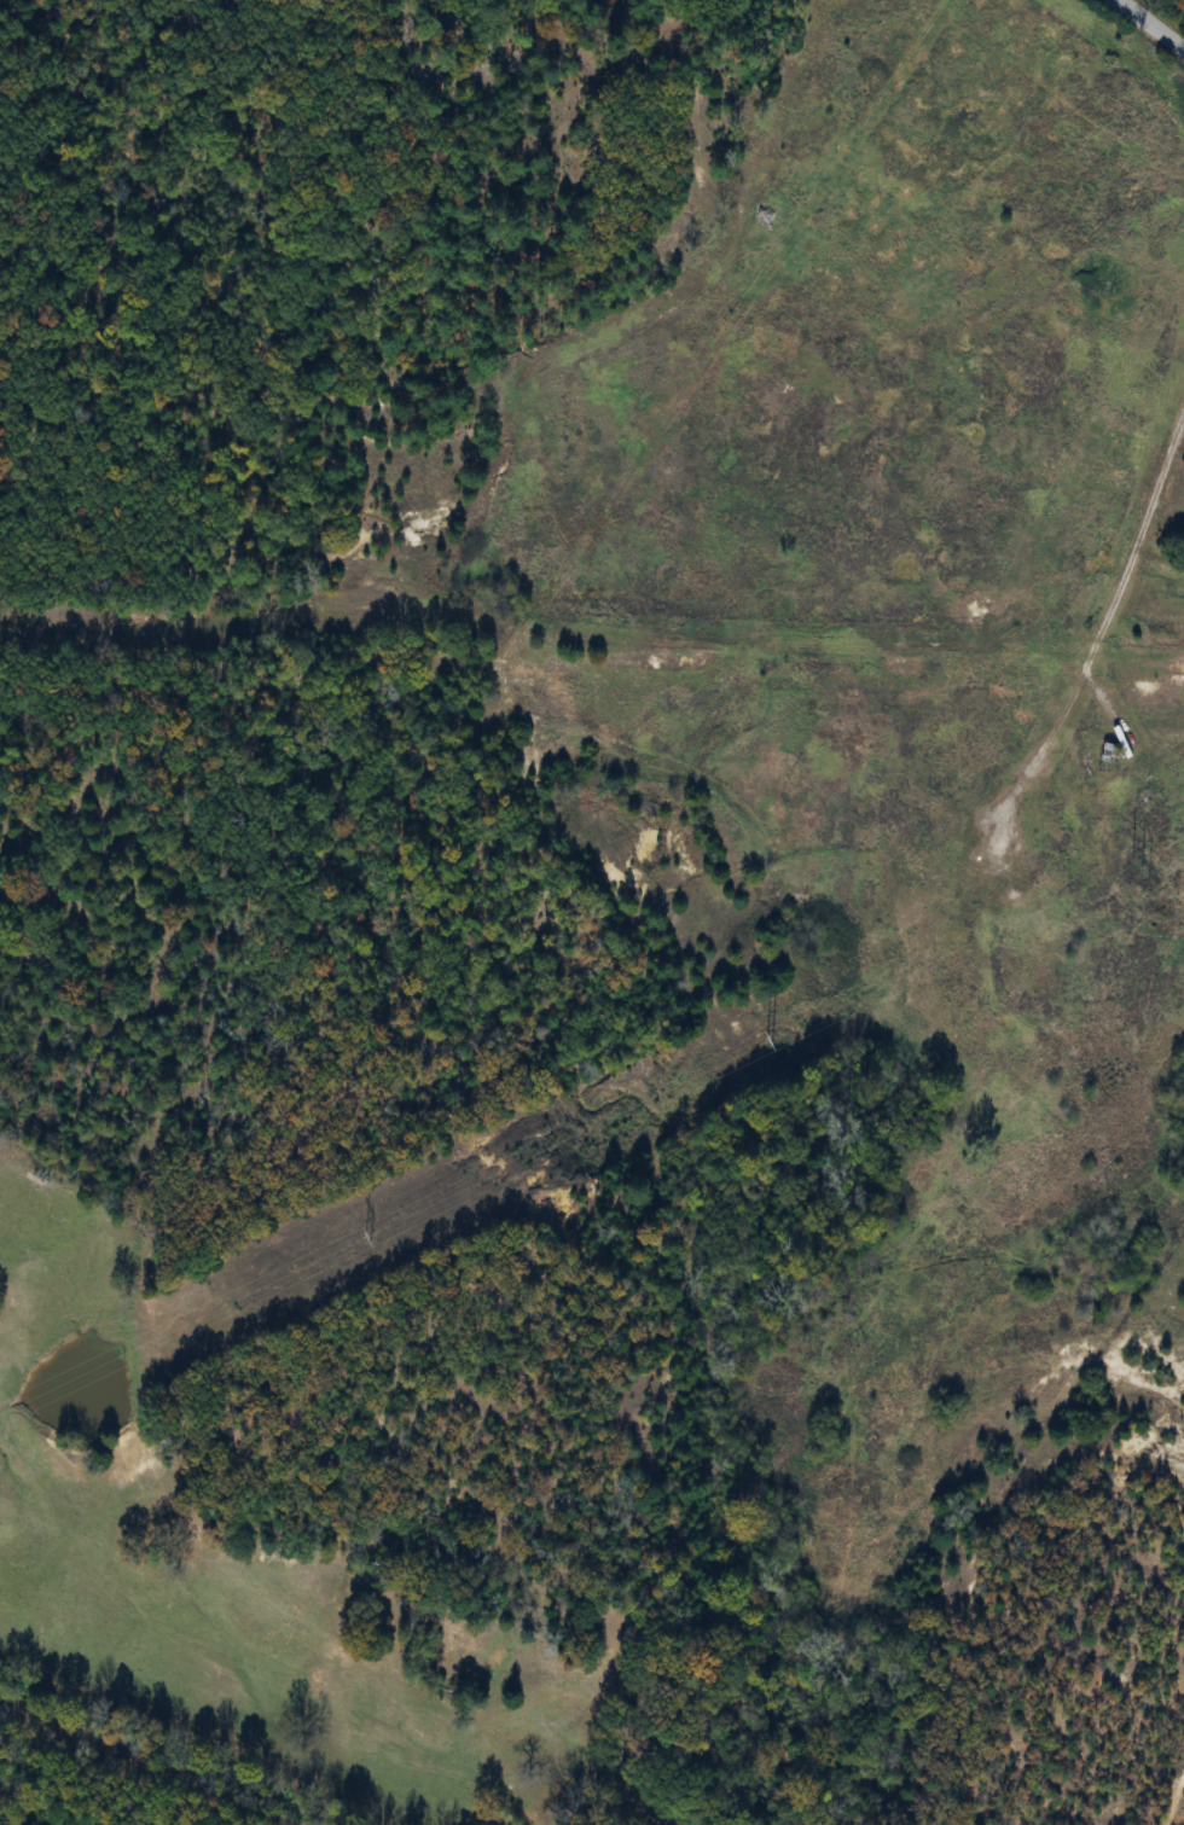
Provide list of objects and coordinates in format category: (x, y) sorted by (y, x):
road: (1149, 25)
building: (1110, 756)
power tower: (1141, 867)
power tower: (759, 1038)
power tower: (367, 1238)

